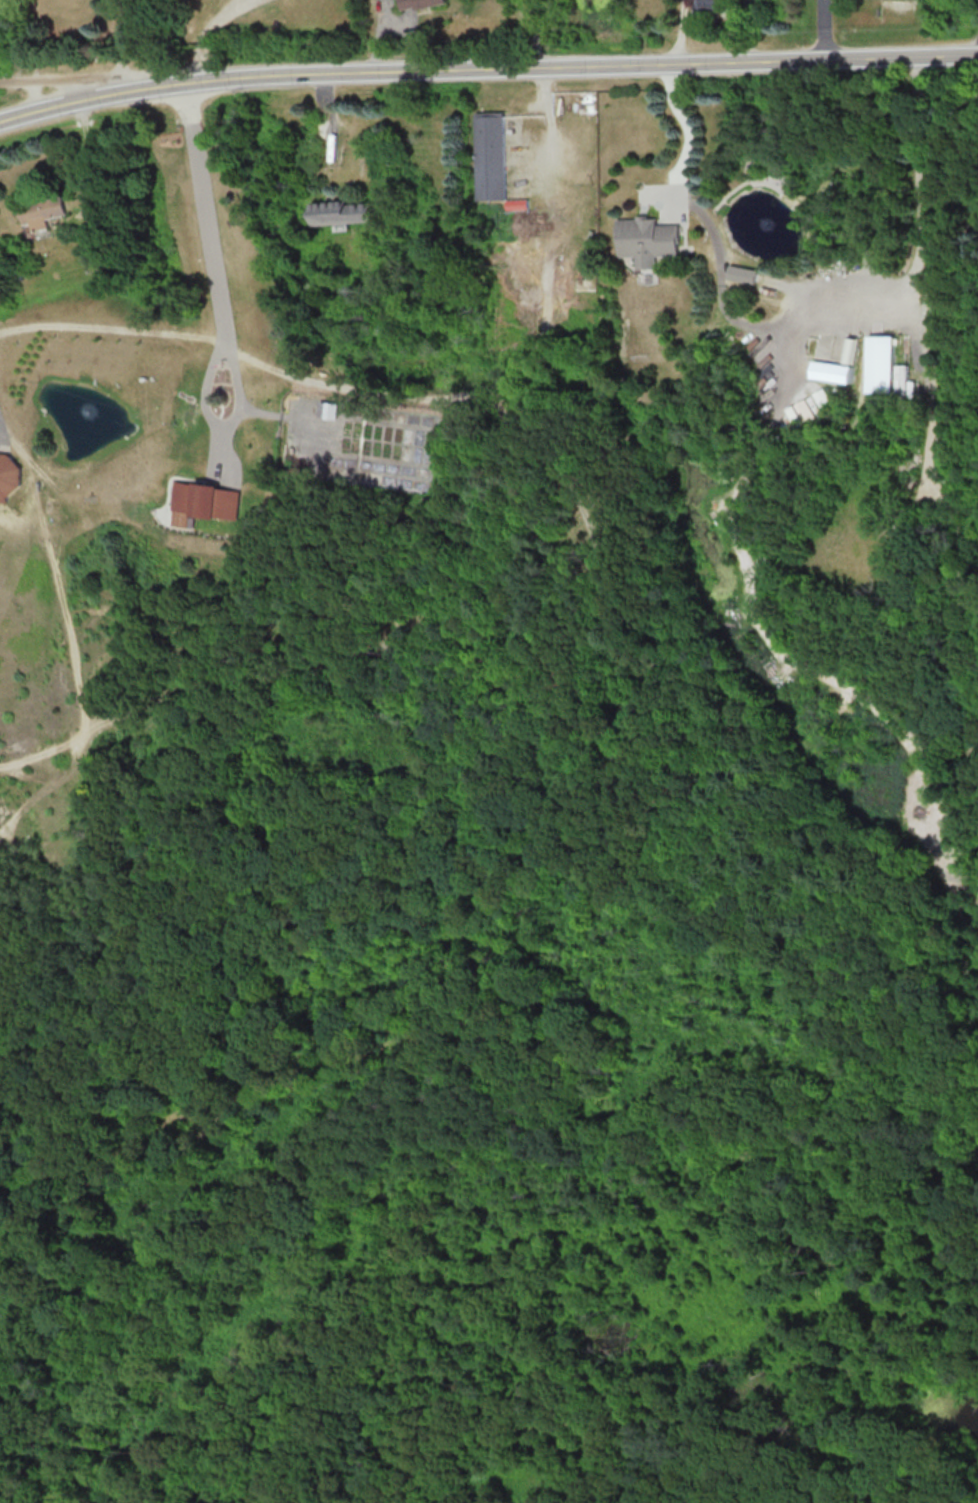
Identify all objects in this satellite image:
building: (417, 3)
building: (713, 6)
road: (823, 29)
road: (214, 31)
road: (679, 31)
road: (533, 34)
road: (157, 44)
road: (123, 47)
road: (486, 70)
road: (62, 75)
road: (689, 133)
building: (490, 155)
building: (42, 211)
building: (340, 212)
building: (648, 239)
road: (212, 248)
building: (742, 273)
road: (858, 305)
building: (850, 349)
building: (881, 363)
building: (832, 371)
building: (808, 407)
road: (2, 440)
building: (9, 473)
building: (200, 501)

